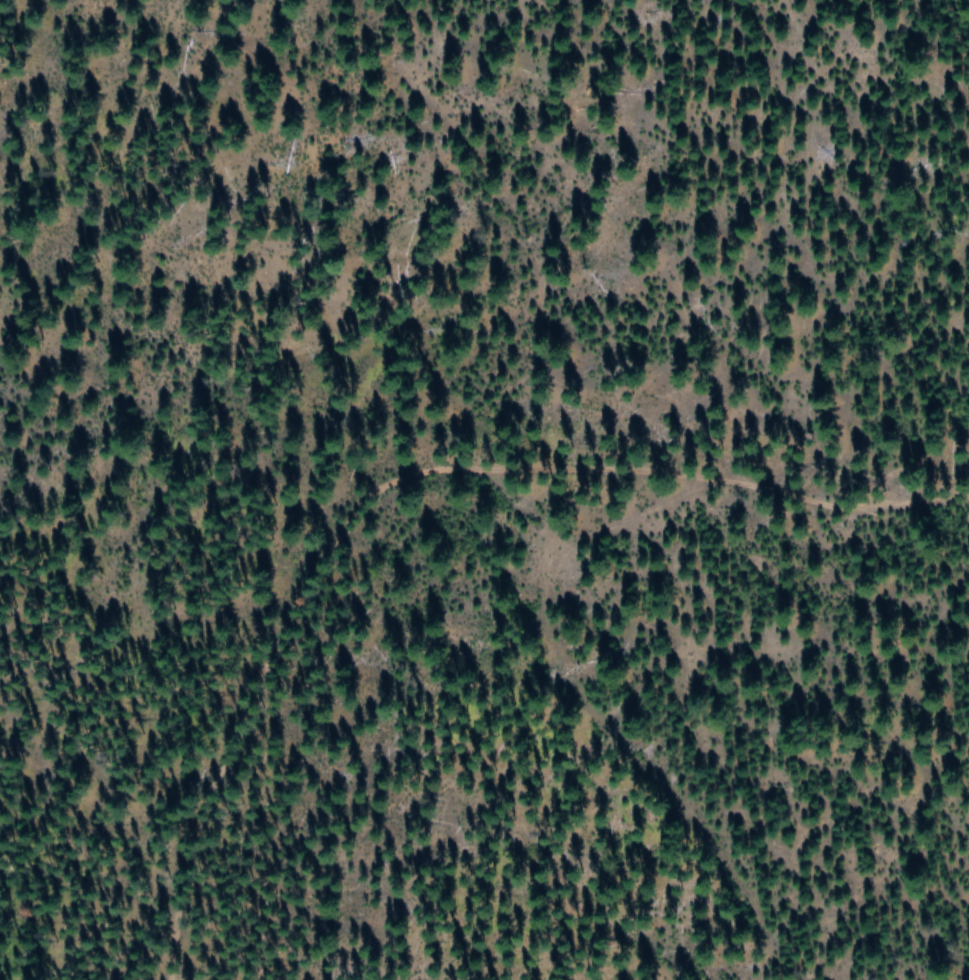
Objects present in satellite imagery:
road: (394, 501)

